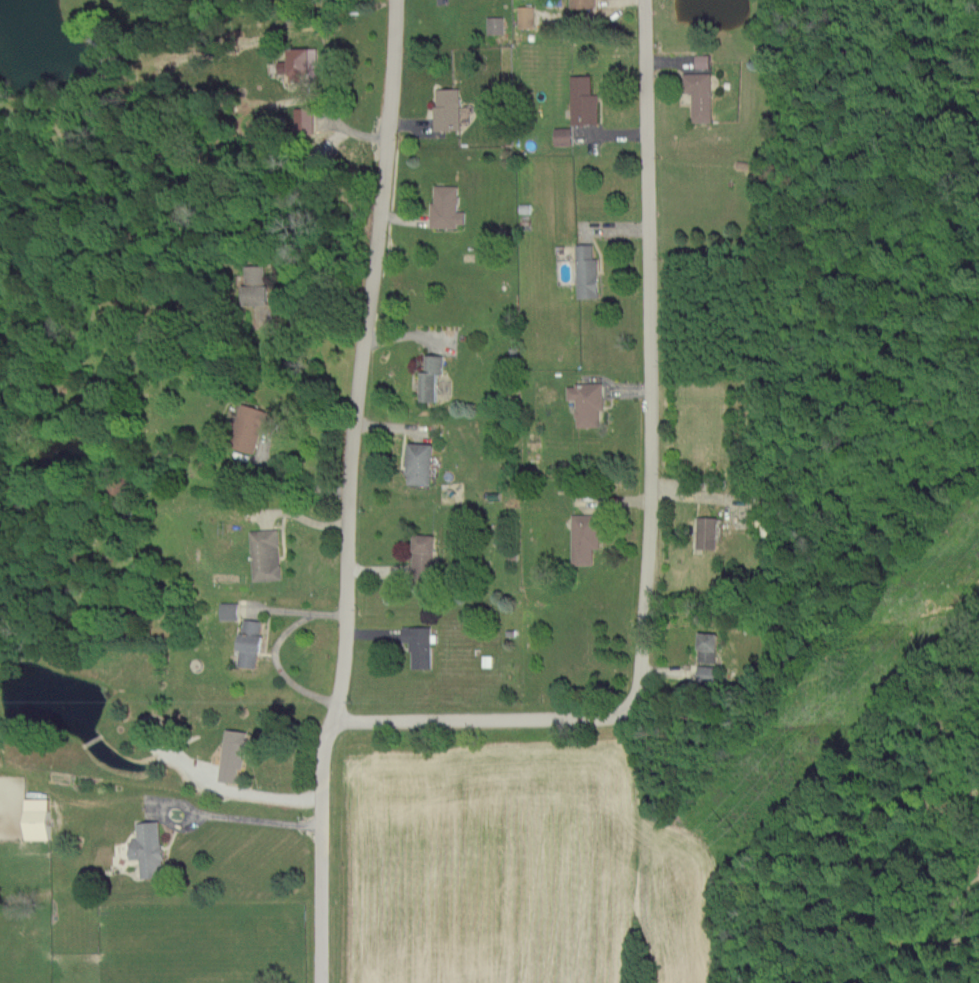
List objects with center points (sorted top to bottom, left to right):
building: (581, 3)
building: (525, 16)
building: (494, 25)
building: (702, 61)
building: (300, 64)
building: (699, 95)
building: (582, 100)
building: (446, 109)
building: (302, 119)
building: (562, 136)
building: (445, 205)
building: (586, 270)
building: (256, 283)
road: (315, 324)
building: (429, 376)
building: (586, 401)
building: (250, 425)
building: (419, 462)
road: (295, 484)
road: (347, 491)
road: (649, 504)
building: (707, 531)
building: (584, 536)
building: (264, 553)
building: (422, 553)
building: (228, 610)
building: (249, 642)
building: (418, 644)
building: (708, 646)
road: (275, 647)
building: (707, 671)
building: (231, 754)
road: (256, 789)
building: (36, 817)
road: (248, 817)
power tower: (735, 819)
building: (147, 848)

